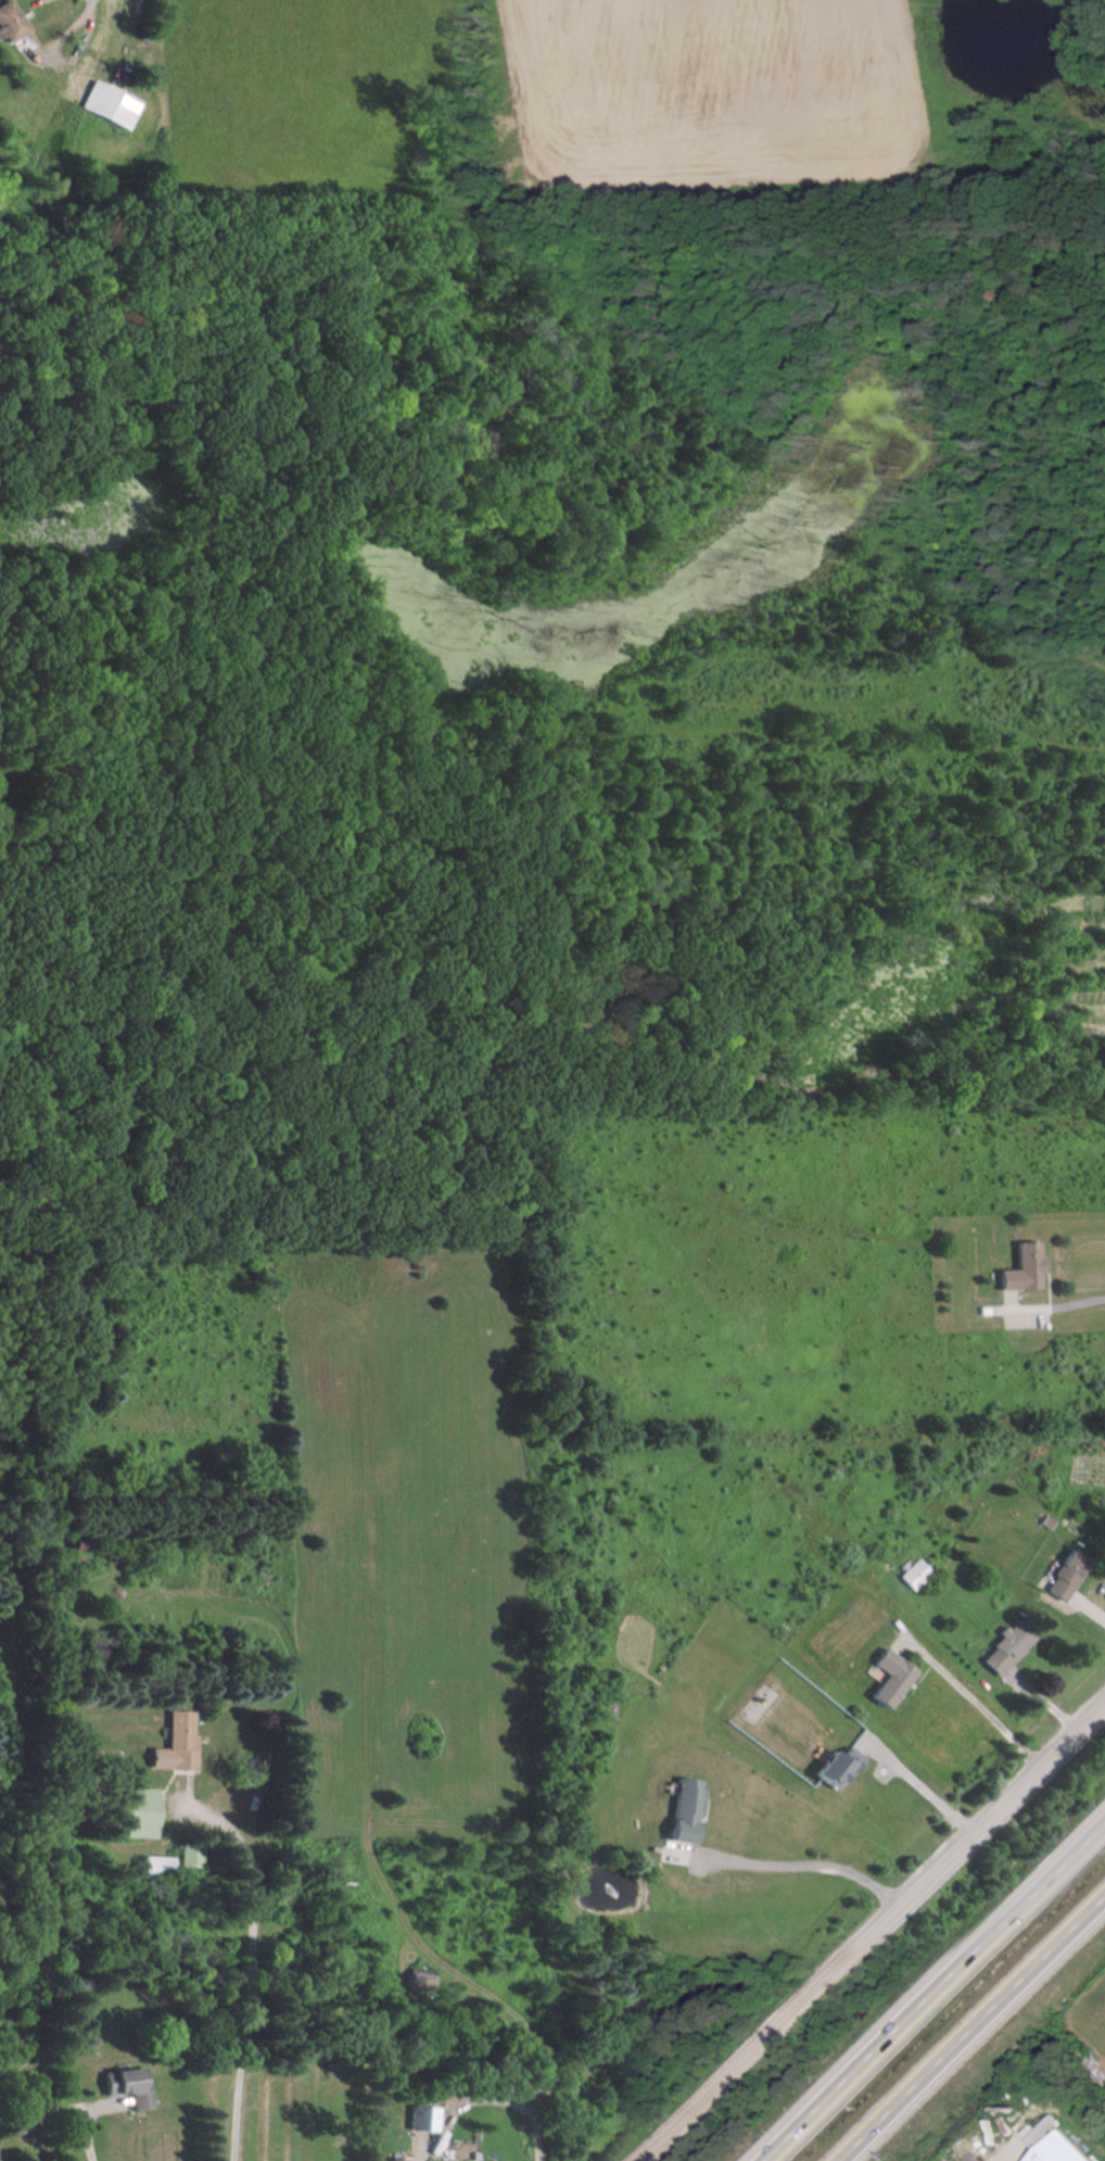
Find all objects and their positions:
building: (10, 21)
building: (113, 104)
building: (1023, 1268)
road: (1058, 1299)
building: (79, 1543)
building: (913, 1574)
building: (1064, 1575)
building: (1006, 1647)
building: (889, 1677)
road: (979, 1705)
building: (180, 1729)
building: (835, 1766)
road: (933, 1785)
building: (684, 1809)
building: (131, 1816)
road: (810, 1859)
building: (150, 1869)
road: (879, 1939)
road: (249, 1975)
road: (941, 1997)
road: (980, 2036)
building: (127, 2085)
road: (488, 2096)
building: (18, 2114)
building: (421, 2116)
road: (89, 2133)
building: (1053, 2144)
building: (394, 2160)

